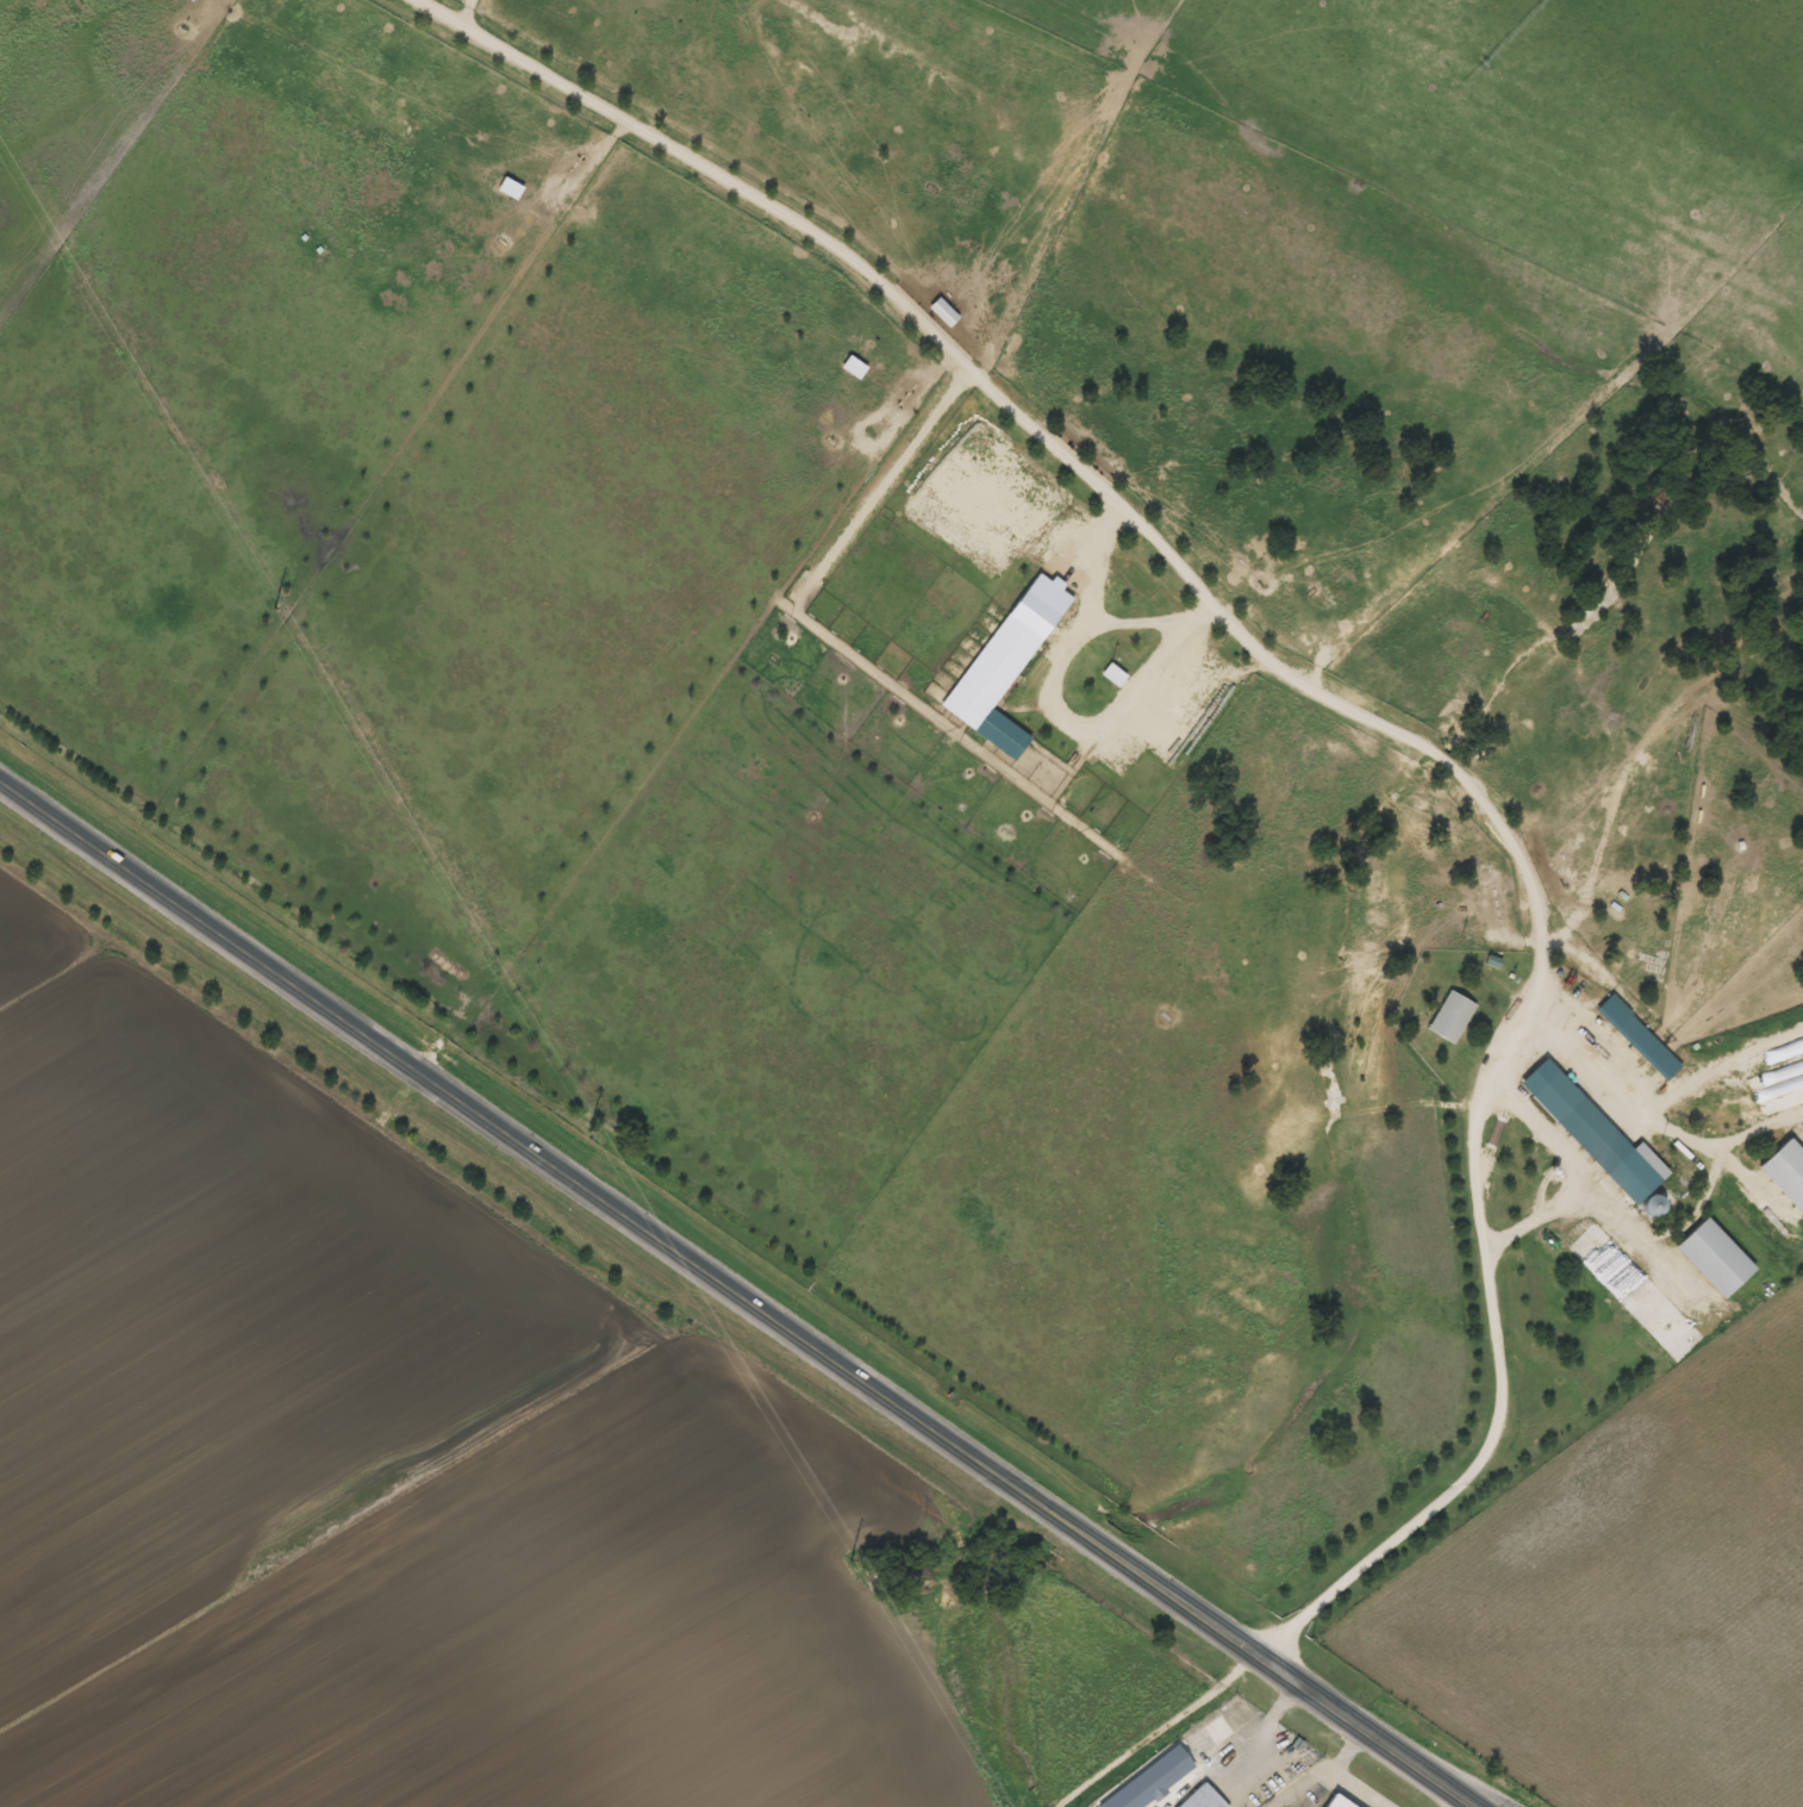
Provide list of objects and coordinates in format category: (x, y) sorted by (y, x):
power tower: (274, 606)
building: (1452, 1016)
building: (1633, 1042)
power tower: (588, 1128)
building: (1590, 1132)
road: (644, 1210)
building: (1715, 1258)
road: (740, 1291)
power tower: (849, 1558)
building: (1211, 1737)
building: (1204, 1797)
building: (1339, 1802)

